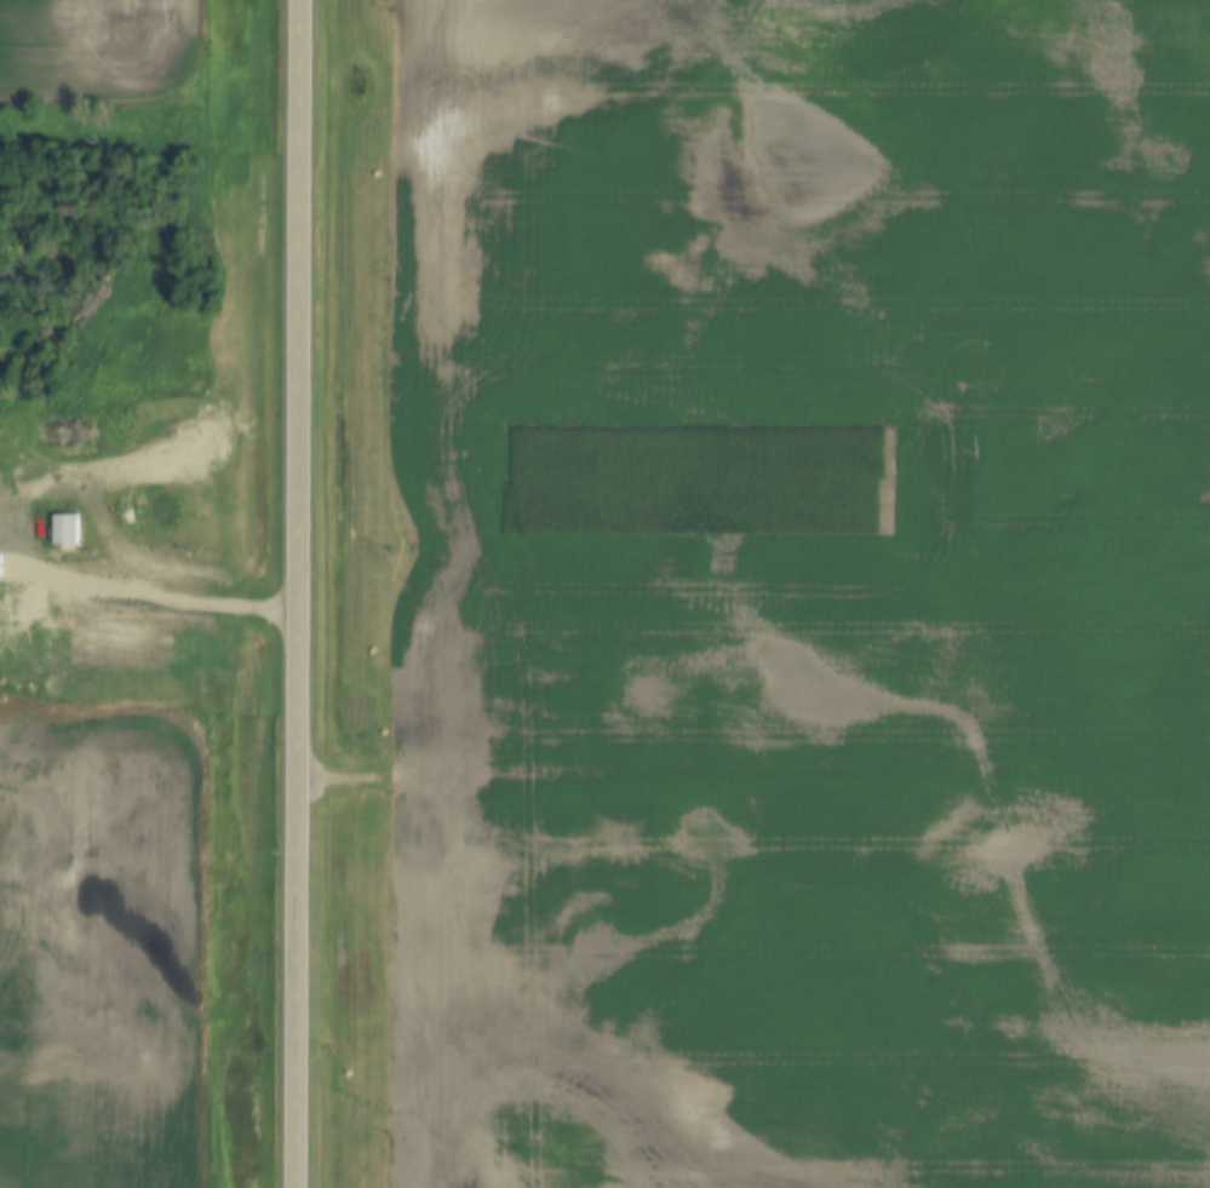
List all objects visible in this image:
building: (122, 430)
building: (147, 512)
building: (64, 529)
road: (145, 592)
road: (304, 593)

